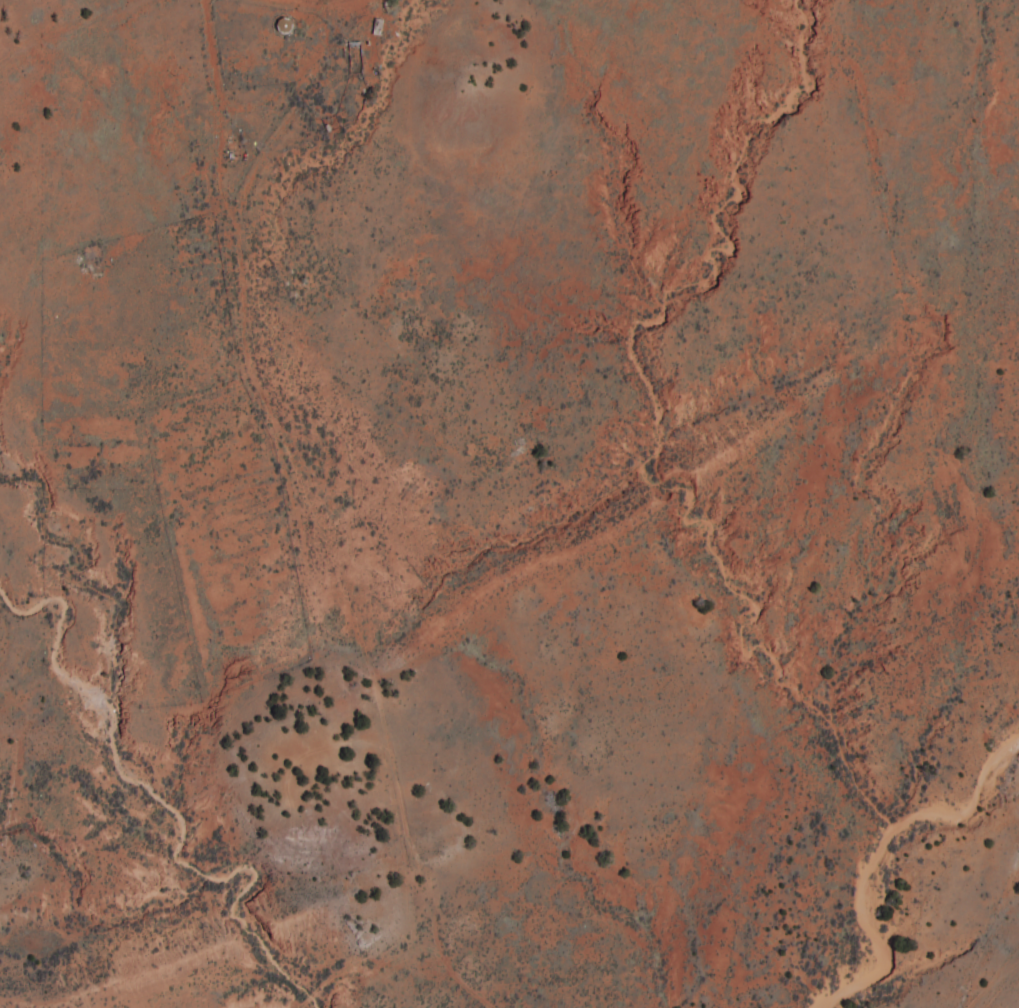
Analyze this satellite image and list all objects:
building: (283, 26)

